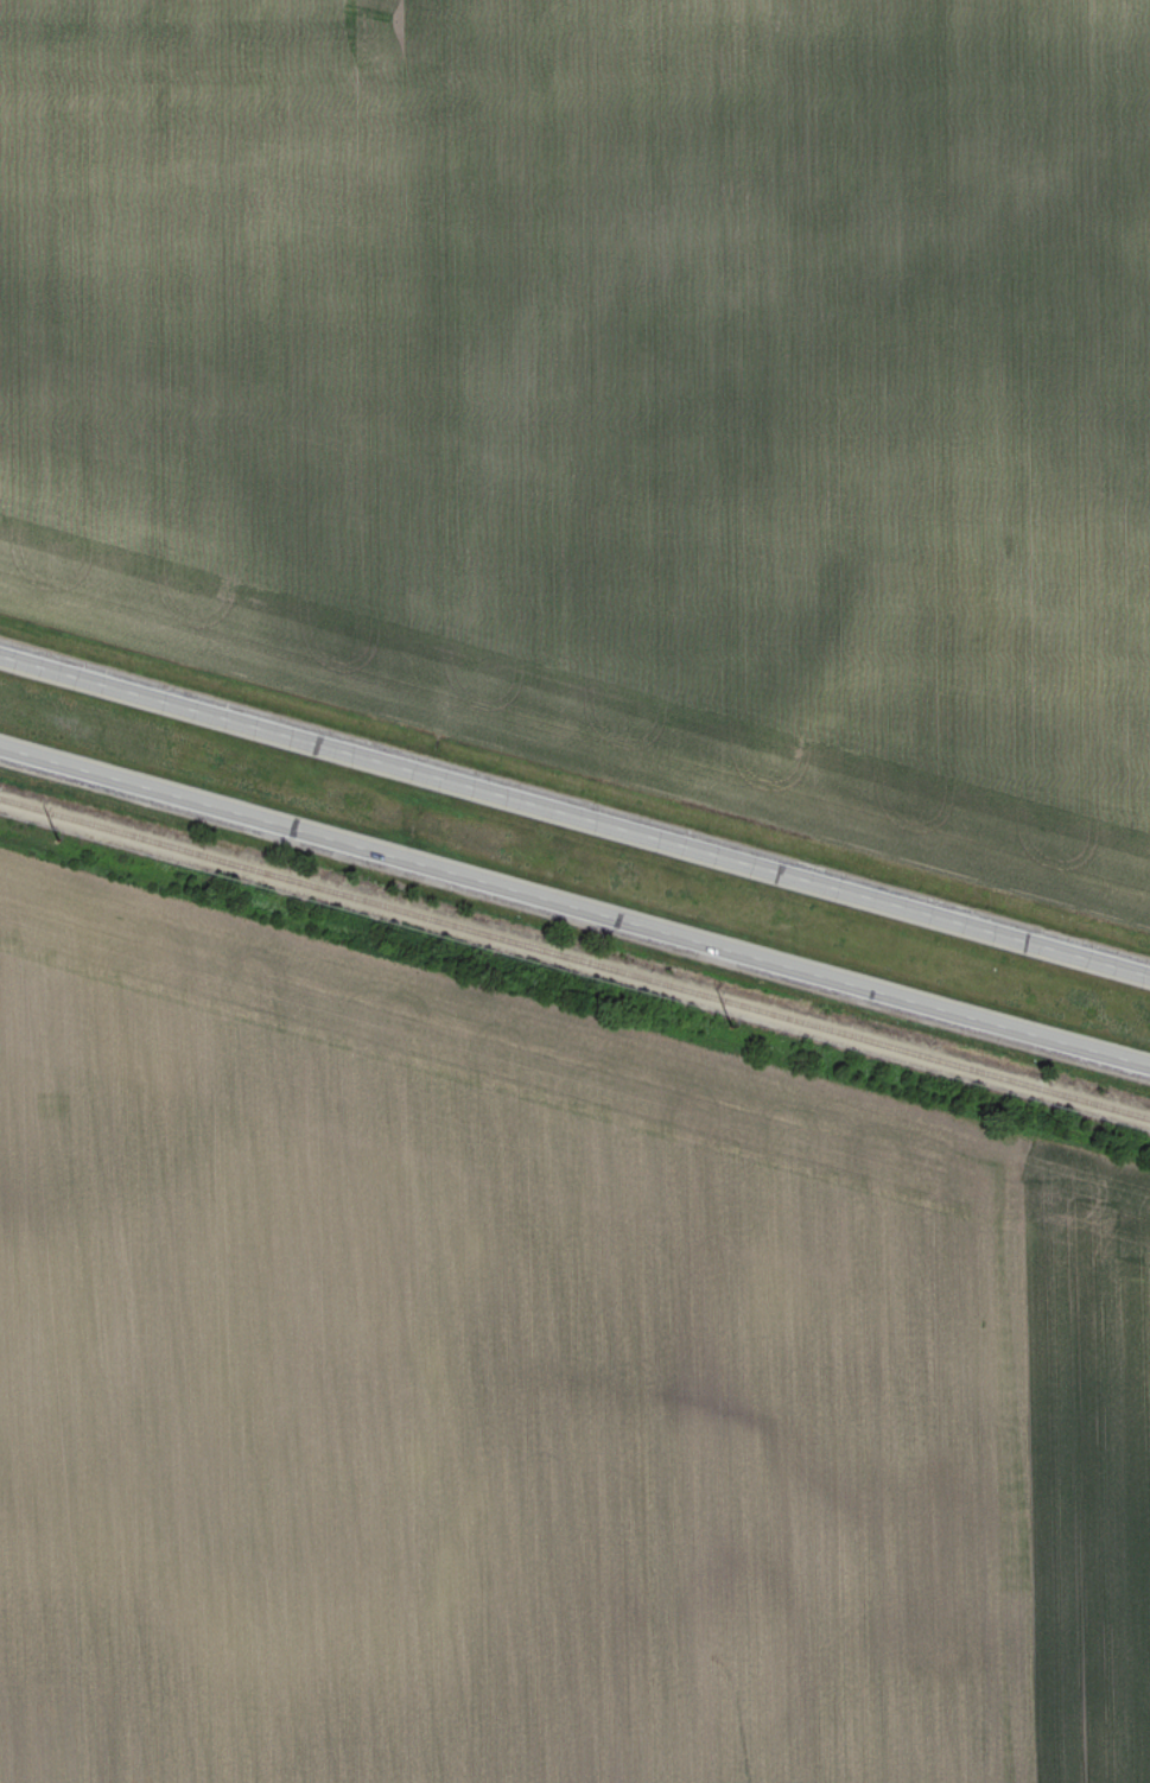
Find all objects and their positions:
road: (574, 816)
power tower: (57, 840)
road: (574, 899)
railway: (574, 977)
power tower: (731, 1027)

